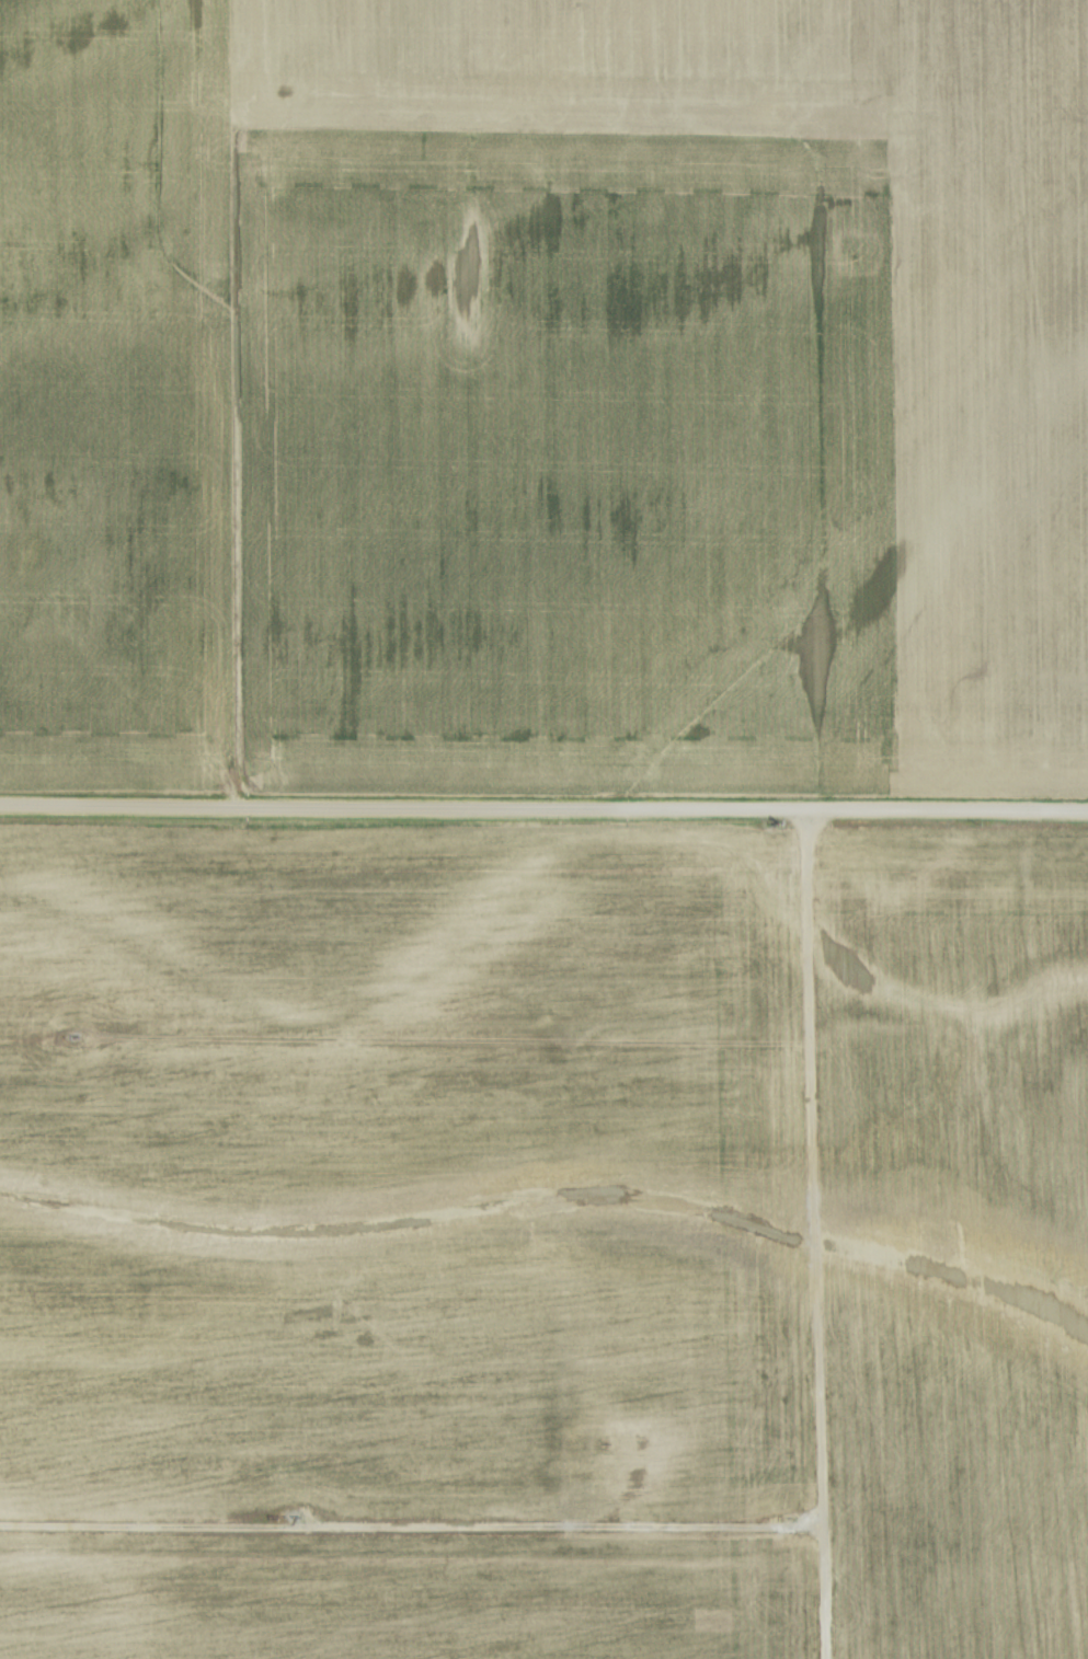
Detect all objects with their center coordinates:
road: (543, 807)
road: (816, 1234)

